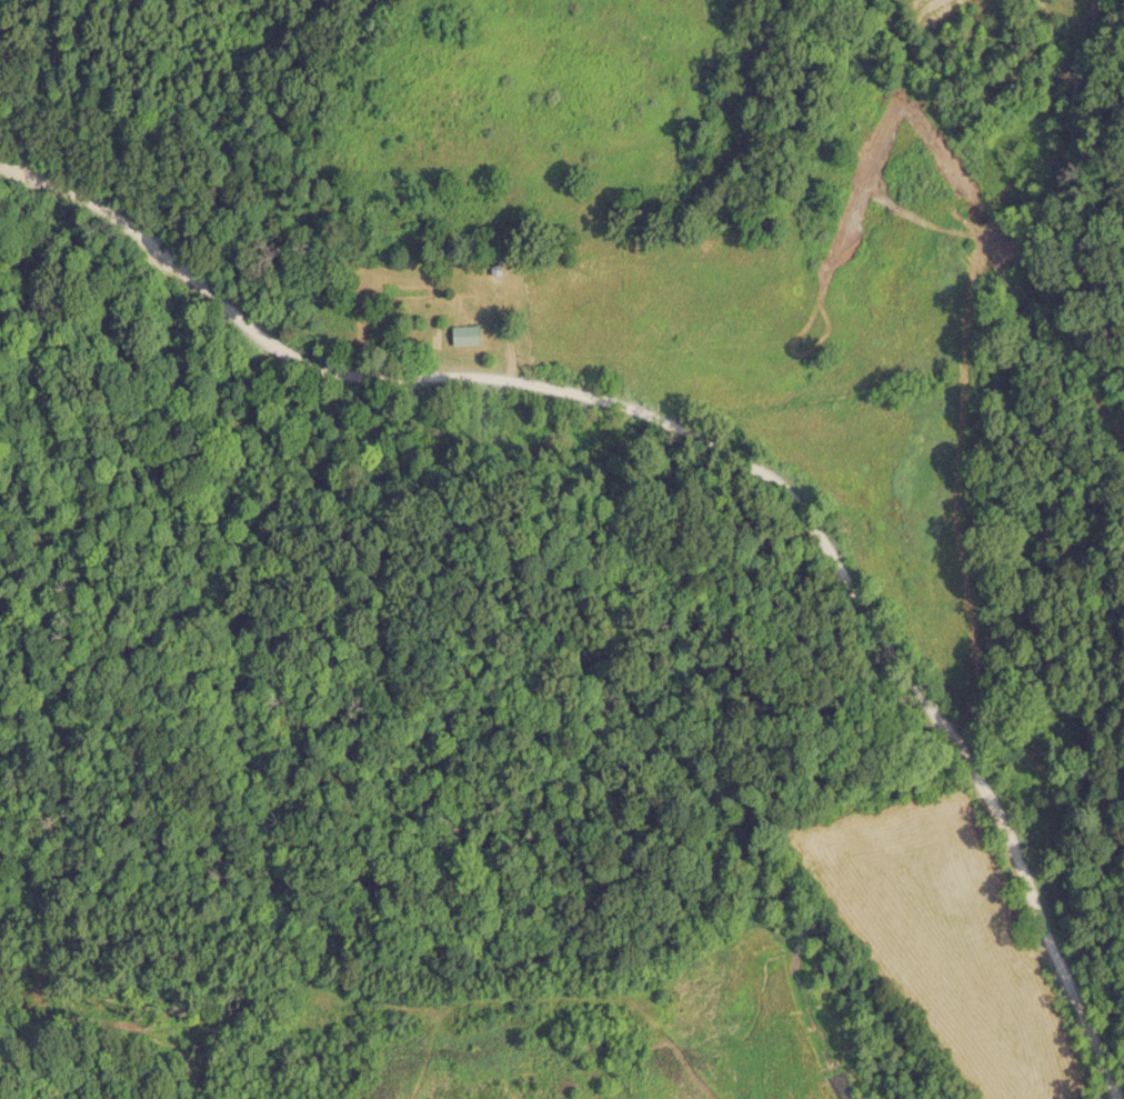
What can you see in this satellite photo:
building: (472, 332)
road: (712, 440)

